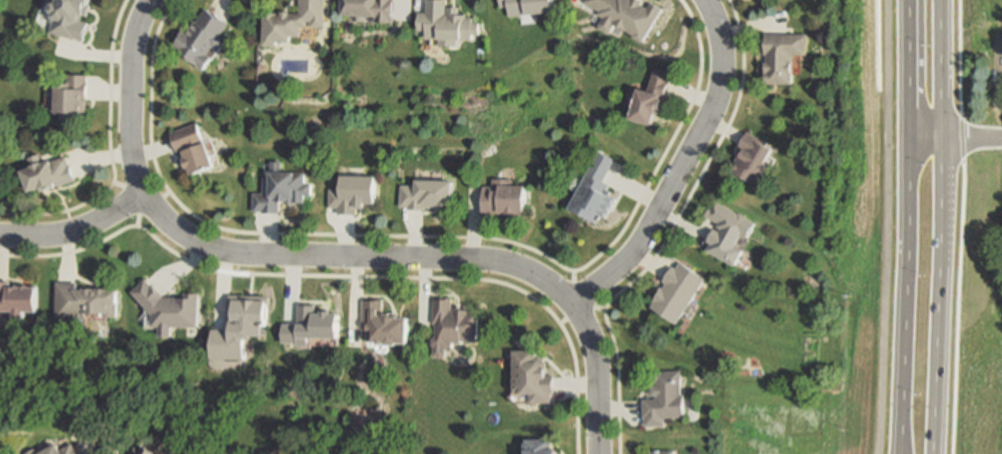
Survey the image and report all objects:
building: (528, 6)
building: (371, 9)
building: (628, 15)
building: (70, 18)
building: (294, 21)
building: (446, 23)
building: (202, 37)
building: (782, 55)
road: (942, 69)
building: (651, 97)
building: (71, 98)
road: (955, 139)
building: (193, 147)
road: (129, 149)
road: (106, 150)
building: (751, 157)
road: (680, 165)
building: (48, 172)
building: (282, 188)
road: (907, 188)
building: (594, 190)
building: (354, 193)
building: (427, 193)
road: (126, 196)
building: (503, 197)
road: (152, 204)
road: (136, 221)
road: (963, 226)
road: (76, 227)
road: (887, 227)
road: (667, 231)
building: (727, 231)
road: (424, 237)
road: (484, 258)
road: (342, 276)
road: (577, 290)
building: (676, 291)
road: (938, 296)
building: (18, 298)
building: (85, 303)
building: (170, 307)
road: (581, 311)
building: (385, 322)
road: (559, 322)
building: (312, 325)
building: (454, 325)
building: (243, 326)
building: (532, 376)
building: (665, 397)
road: (901, 415)
building: (540, 446)
building: (64, 450)
building: (145, 450)
building: (34, 451)
building: (663, 452)

